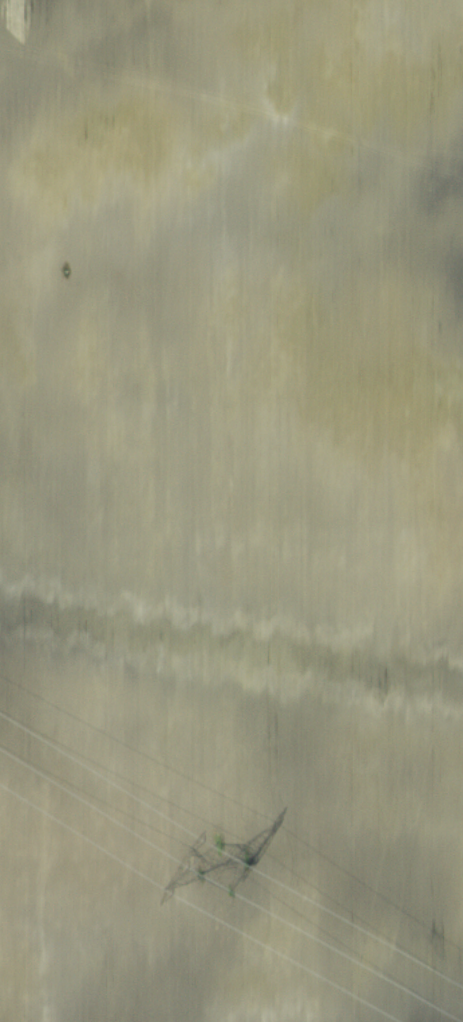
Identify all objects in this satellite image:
power tower: (224, 865)

